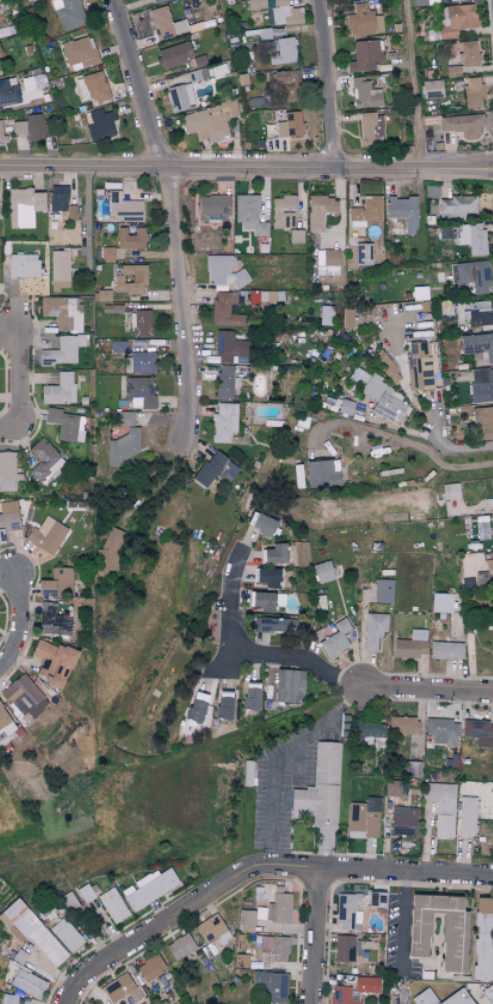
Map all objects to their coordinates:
building: (158, 1)
building: (425, 2)
building: (255, 4)
building: (68, 14)
building: (283, 14)
building: (456, 20)
building: (363, 21)
building: (165, 24)
building: (283, 52)
building: (79, 53)
building: (468, 54)
building: (0, 55)
building: (174, 55)
building: (365, 56)
building: (453, 71)
building: (196, 75)
building: (33, 82)
building: (286, 84)
road: (329, 84)
road: (413, 85)
building: (92, 87)
building: (432, 89)
building: (472, 92)
building: (8, 93)
building: (364, 94)
building: (180, 98)
building: (209, 121)
building: (463, 125)
building: (100, 126)
building: (290, 126)
building: (19, 128)
building: (35, 128)
building: (370, 129)
building: (1, 133)
road: (246, 168)
building: (58, 197)
building: (213, 206)
building: (23, 207)
building: (123, 207)
building: (455, 207)
building: (71, 211)
building: (282, 211)
building: (319, 211)
building: (366, 211)
building: (403, 211)
building: (249, 214)
road: (173, 223)
building: (295, 235)
building: (472, 237)
building: (131, 238)
building: (363, 253)
building: (107, 254)
building: (327, 262)
building: (23, 265)
building: (59, 265)
building: (223, 271)
building: (479, 277)
building: (130, 279)
building: (103, 295)
building: (259, 296)
building: (225, 309)
building: (62, 311)
building: (479, 312)
building: (326, 315)
building: (140, 323)
building: (478, 345)
building: (231, 348)
building: (62, 350)
building: (139, 362)
building: (418, 367)
building: (387, 368)
building: (359, 375)
building: (225, 381)
building: (481, 385)
road: (21, 387)
building: (59, 389)
building: (139, 391)
building: (385, 400)
building: (346, 406)
building: (124, 418)
building: (224, 422)
building: (483, 422)
building: (66, 424)
building: (122, 447)
road: (456, 448)
road: (422, 449)
building: (44, 460)
building: (215, 469)
building: (7, 470)
building: (322, 473)
building: (450, 491)
building: (492, 492)
building: (8, 523)
building: (263, 523)
building: (46, 537)
building: (274, 554)
building: (109, 555)
building: (490, 562)
building: (322, 571)
building: (267, 577)
building: (56, 582)
building: (383, 590)
building: (279, 600)
building: (261, 601)
building: (442, 602)
building: (52, 623)
building: (275, 625)
road: (21, 630)
building: (373, 630)
building: (335, 639)
building: (492, 640)
building: (411, 645)
building: (445, 650)
road: (248, 652)
building: (52, 662)
building: (289, 686)
road: (425, 690)
building: (251, 696)
building: (23, 697)
building: (223, 705)
building: (195, 707)
building: (5, 724)
building: (403, 725)
building: (442, 731)
building: (479, 732)
road: (279, 758)
building: (247, 773)
building: (412, 773)
building: (321, 786)
building: (466, 788)
building: (441, 806)
building: (466, 816)
building: (362, 821)
building: (404, 822)
building: (370, 845)
road: (377, 871)
building: (149, 887)
building: (375, 899)
building: (113, 905)
building: (278, 907)
building: (348, 912)
building: (246, 920)
road: (402, 924)
road: (161, 927)
building: (210, 928)
building: (34, 932)
building: (454, 934)
building: (66, 935)
road: (318, 936)
building: (482, 938)
building: (180, 946)
building: (270, 948)
building: (344, 948)
building: (150, 968)
road: (55, 971)
building: (27, 982)
building: (272, 984)
building: (367, 984)
building: (120, 989)
building: (488, 993)
building: (342, 995)
building: (462, 998)

